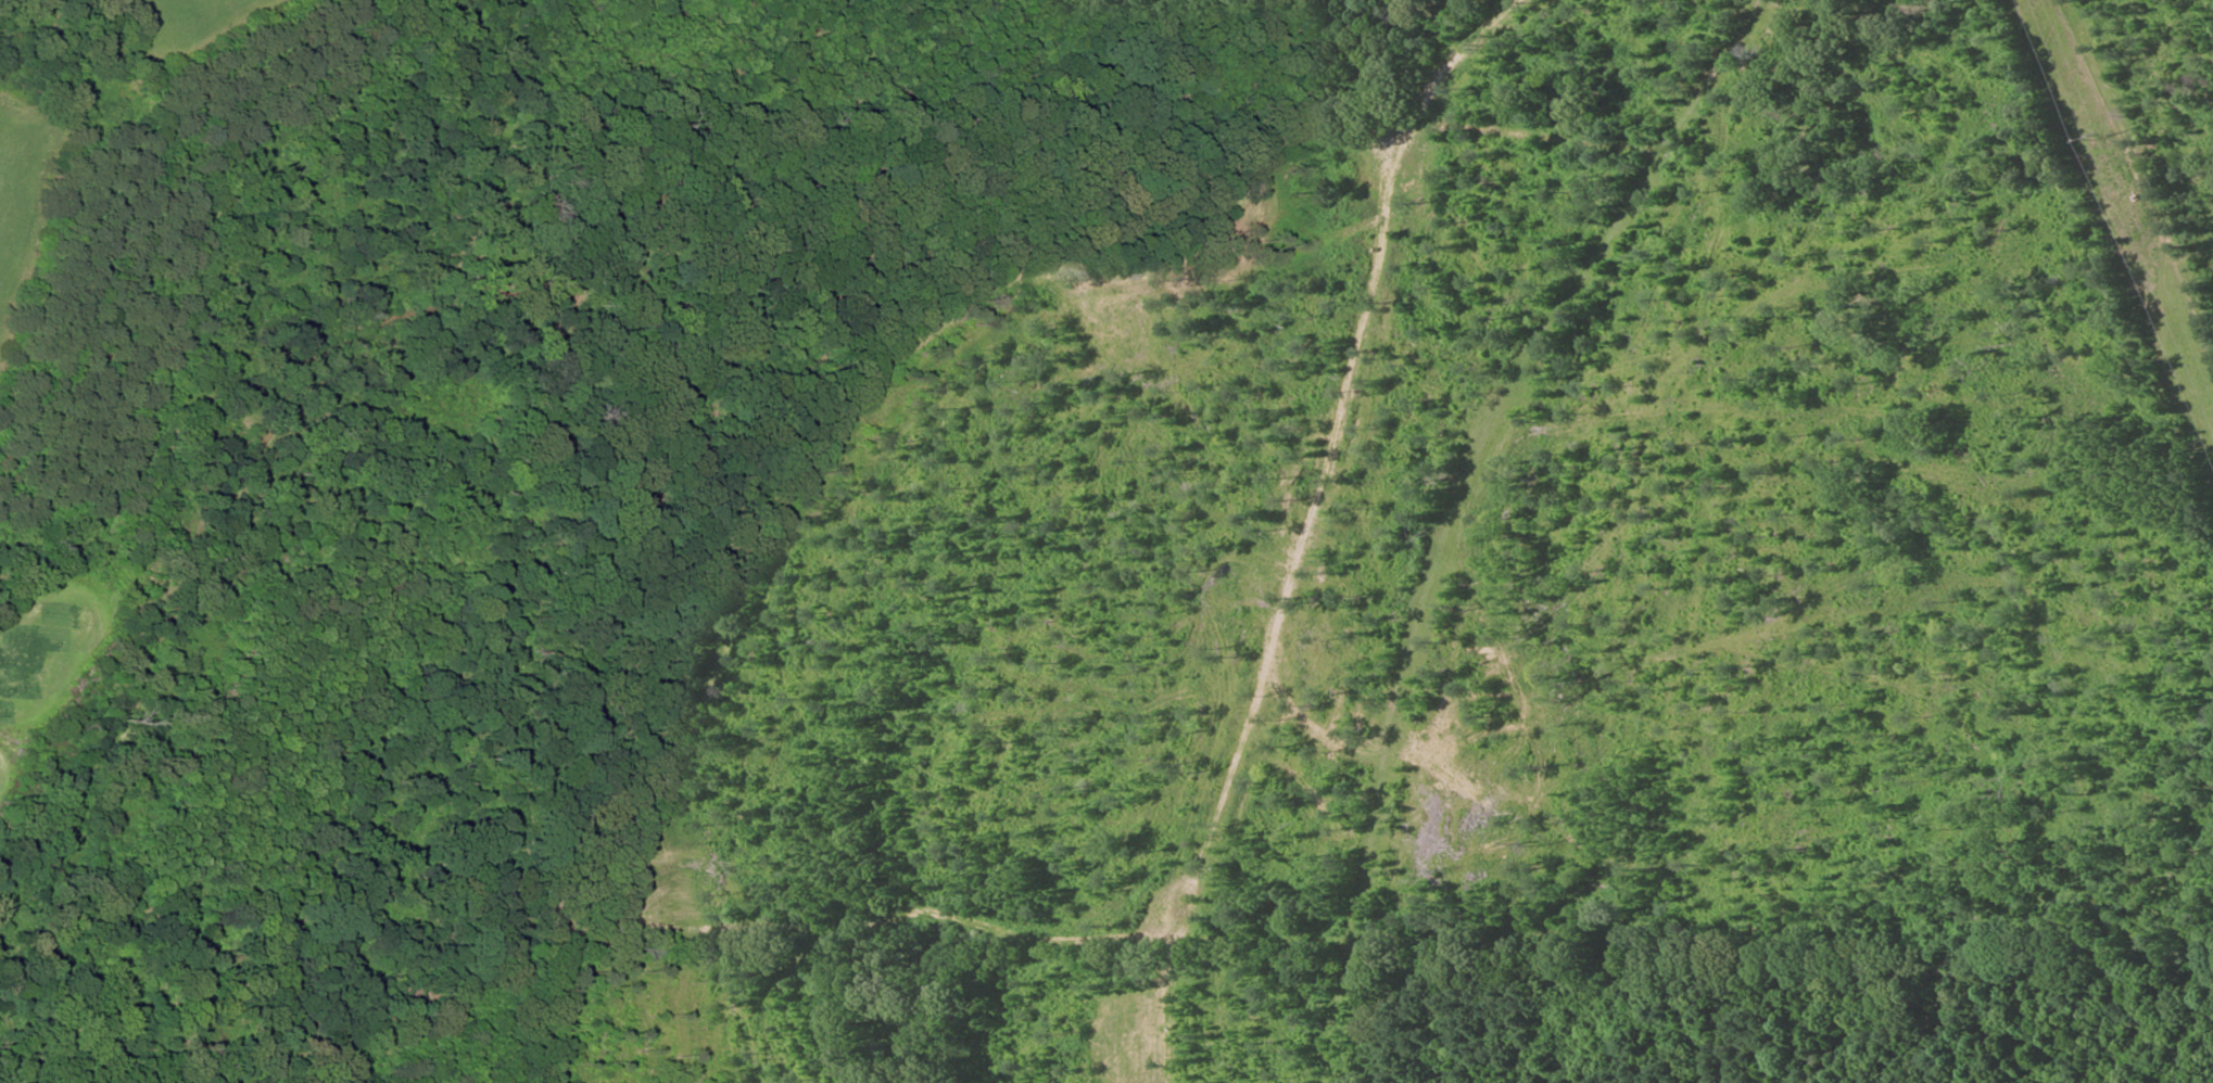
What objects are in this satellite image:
power tower: (2096, 137)

